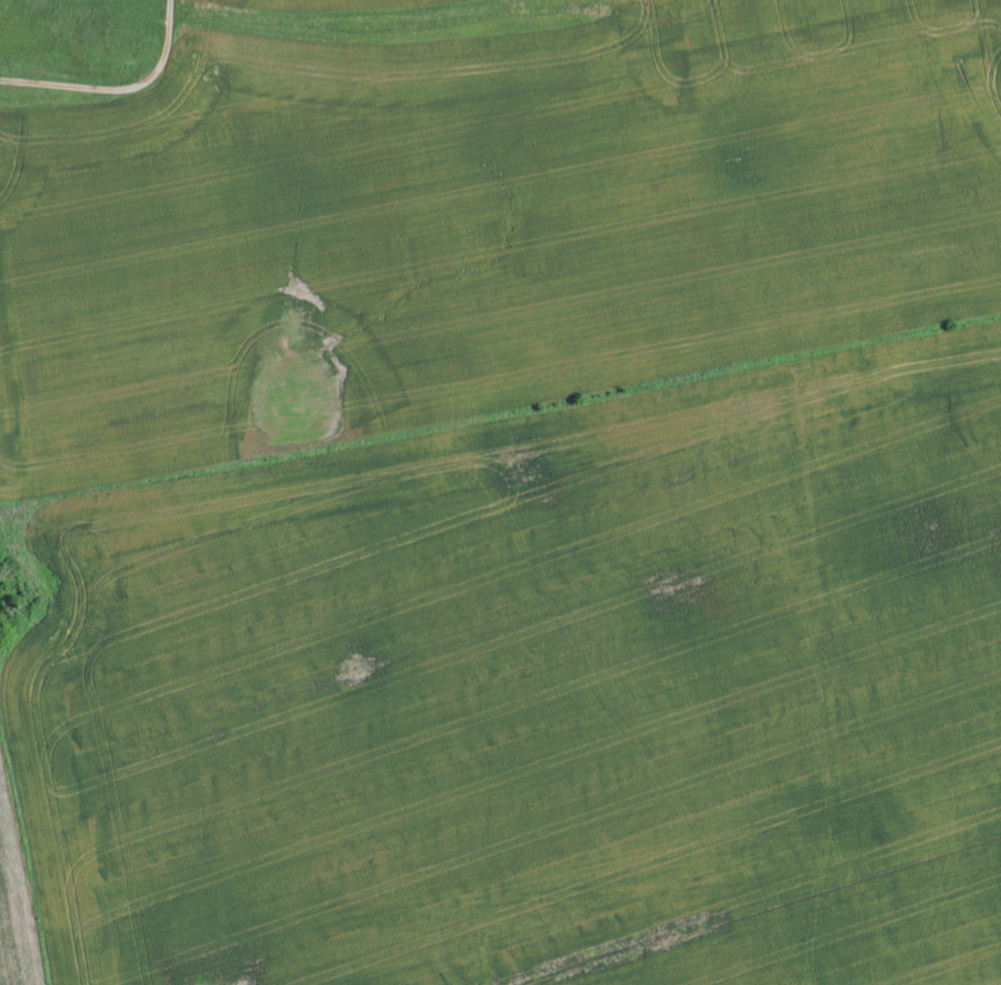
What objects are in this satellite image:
road: (132, 101)

